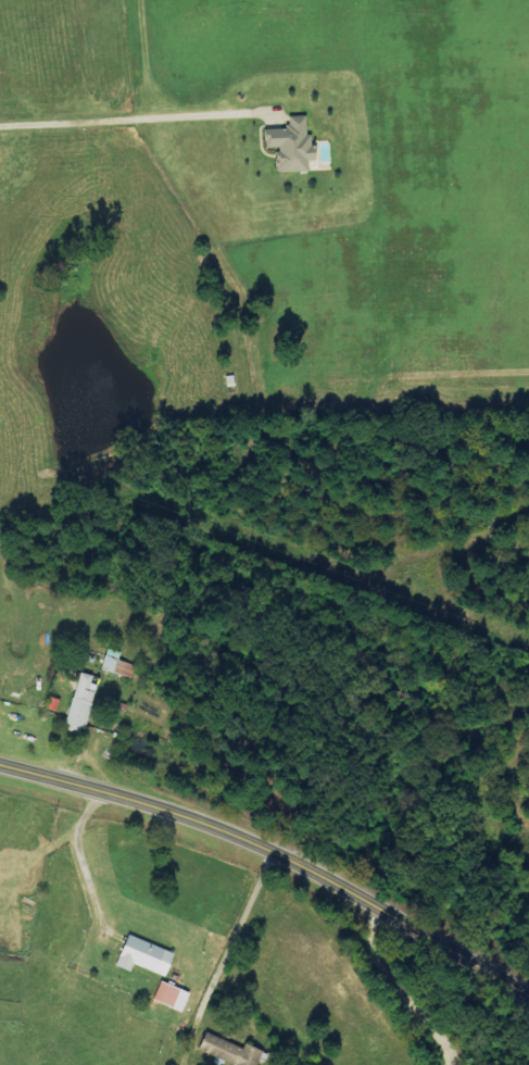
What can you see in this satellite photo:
road: (127, 116)
building: (292, 146)
building: (81, 702)
road: (274, 842)
road: (226, 953)
building: (146, 956)
road: (395, 983)
building: (172, 995)
building: (231, 1051)

